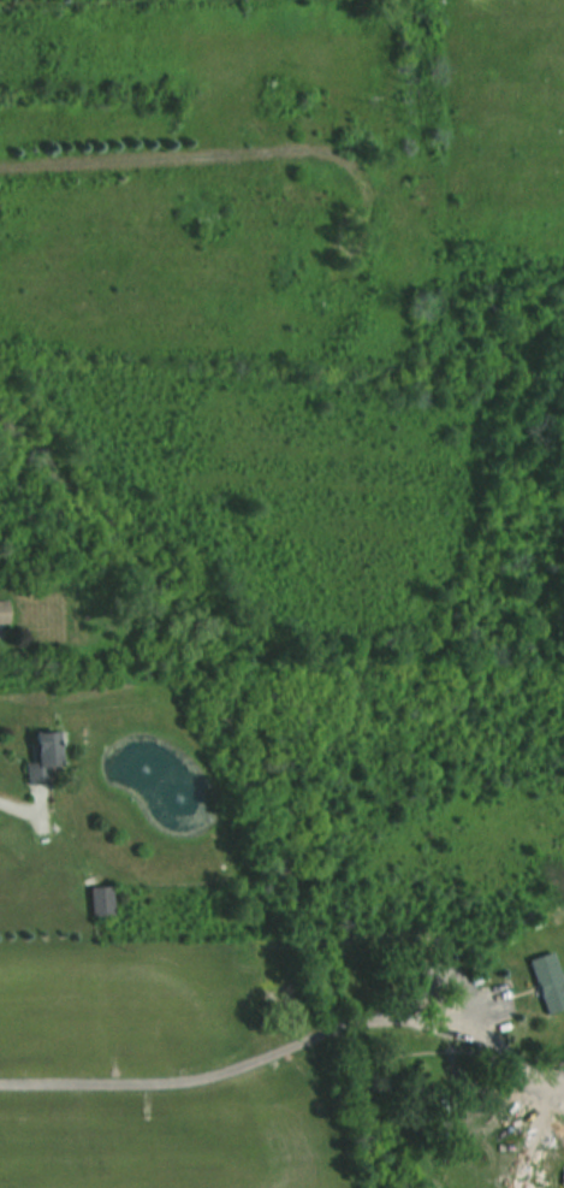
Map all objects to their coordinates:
building: (2, 613)
building: (41, 757)
road: (12, 804)
building: (99, 902)
building: (546, 982)
road: (423, 1015)
road: (350, 1027)
road: (165, 1080)

